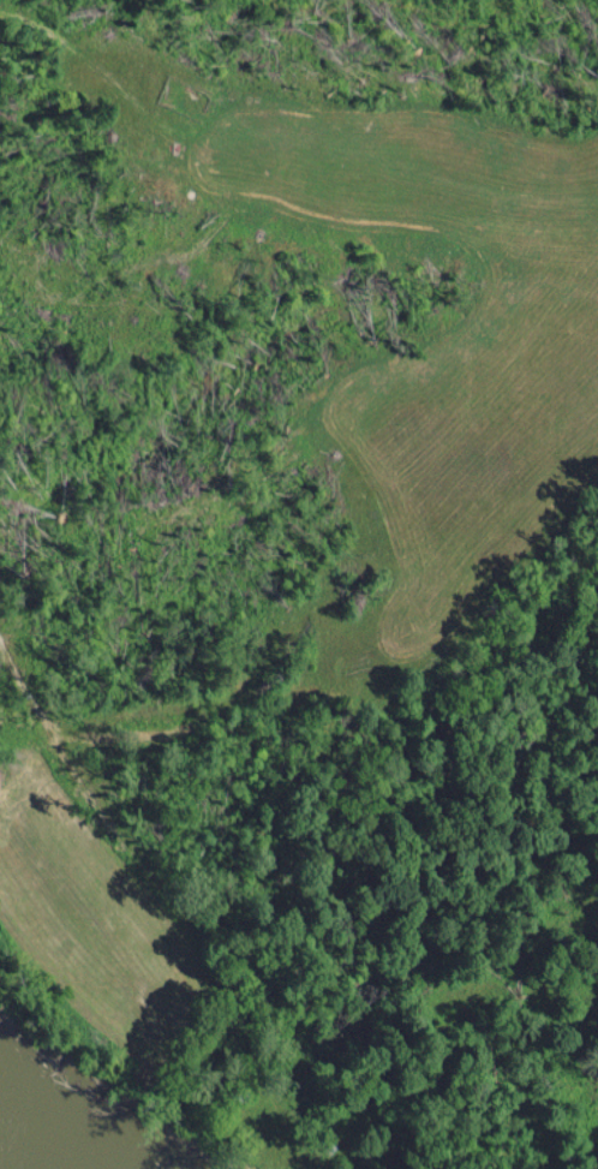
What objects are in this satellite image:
road: (173, 902)
river: (7, 1162)

